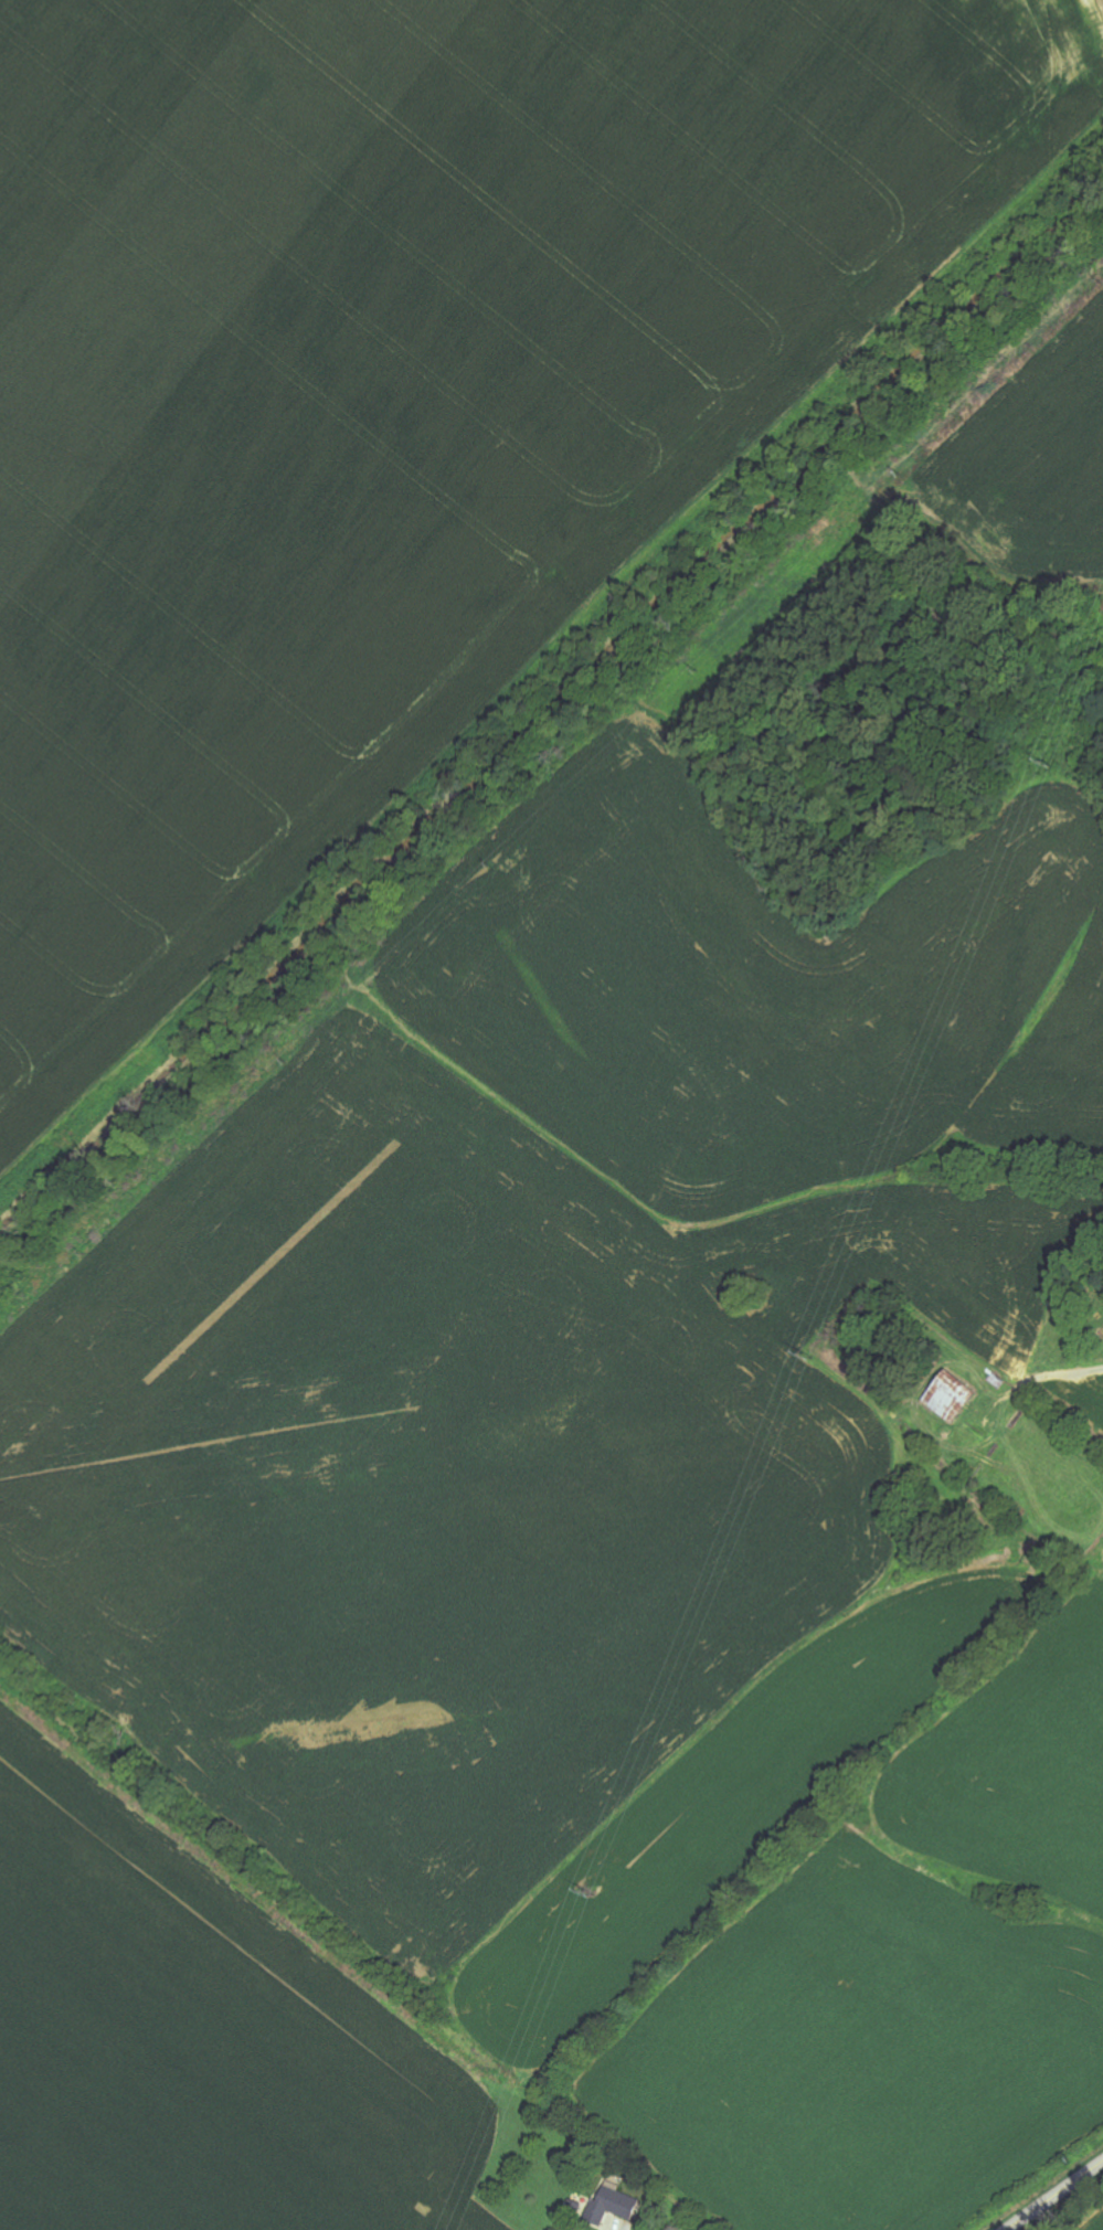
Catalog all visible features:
road: (1008, 1362)
building: (948, 1398)
road: (1056, 2196)
building: (612, 2205)

